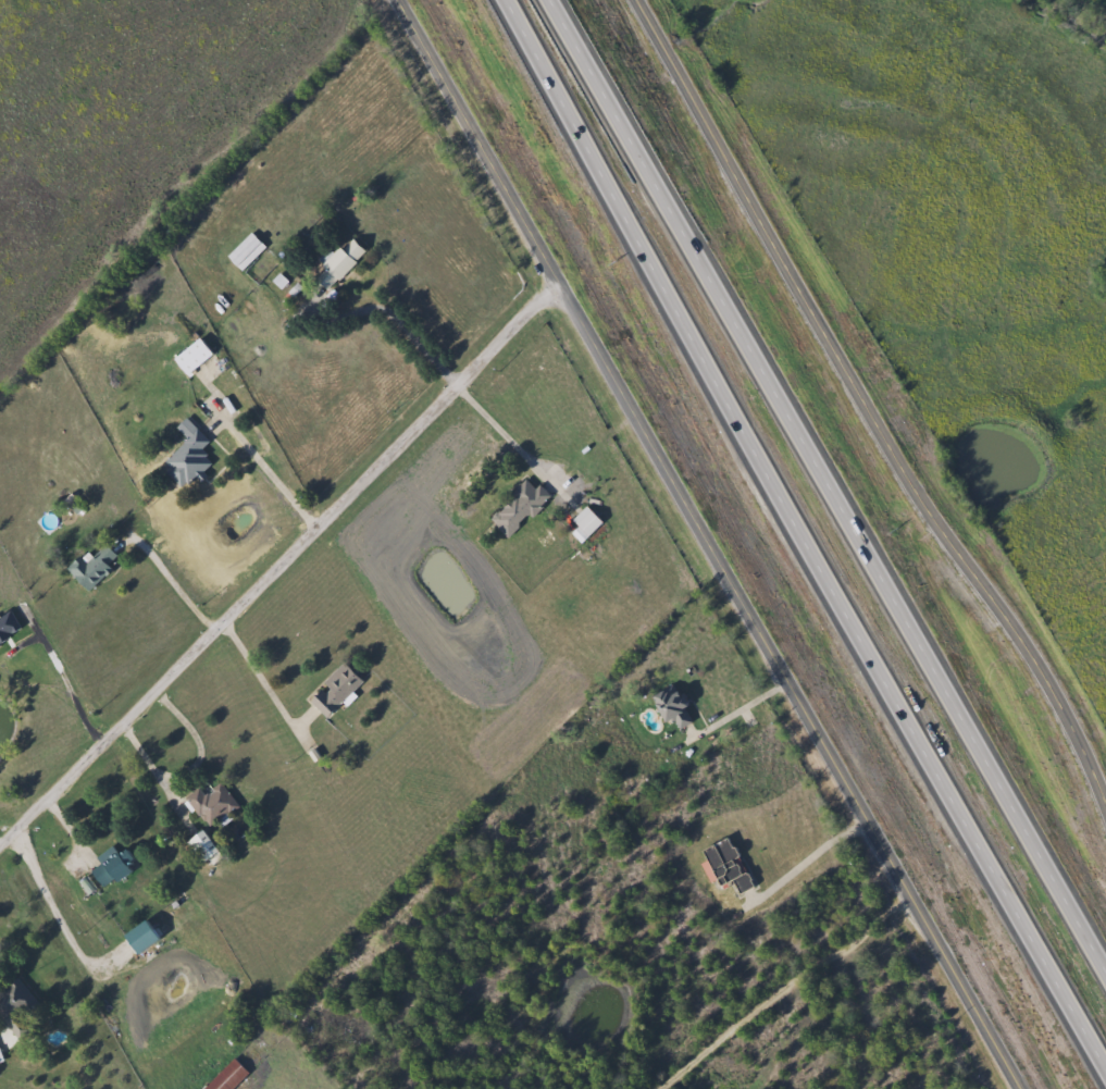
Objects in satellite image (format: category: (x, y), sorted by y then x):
building: (243, 251)
building: (332, 263)
road: (392, 317)
road: (868, 401)
road: (504, 433)
building: (184, 454)
road: (270, 473)
road: (828, 481)
building: (515, 507)
building: (583, 520)
road: (803, 533)
road: (712, 544)
building: (88, 566)
road: (282, 566)
road: (175, 590)
road: (266, 680)
road: (66, 690)
building: (333, 690)
road: (747, 707)
building: (673, 708)
road: (198, 740)
road: (158, 776)
building: (209, 803)
road: (70, 826)
building: (198, 846)
road: (808, 861)
building: (723, 864)
building: (105, 871)
road: (59, 911)
road: (785, 988)
building: (14, 1011)
building: (0, 1059)
building: (227, 1077)

